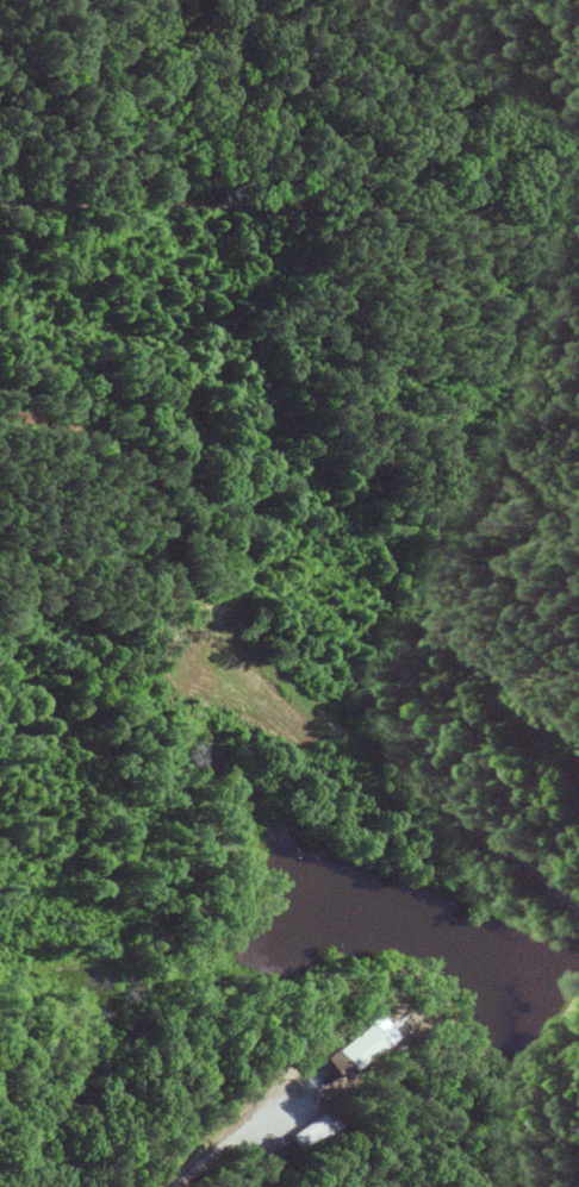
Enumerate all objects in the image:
building: (359, 1047)
building: (316, 1130)

